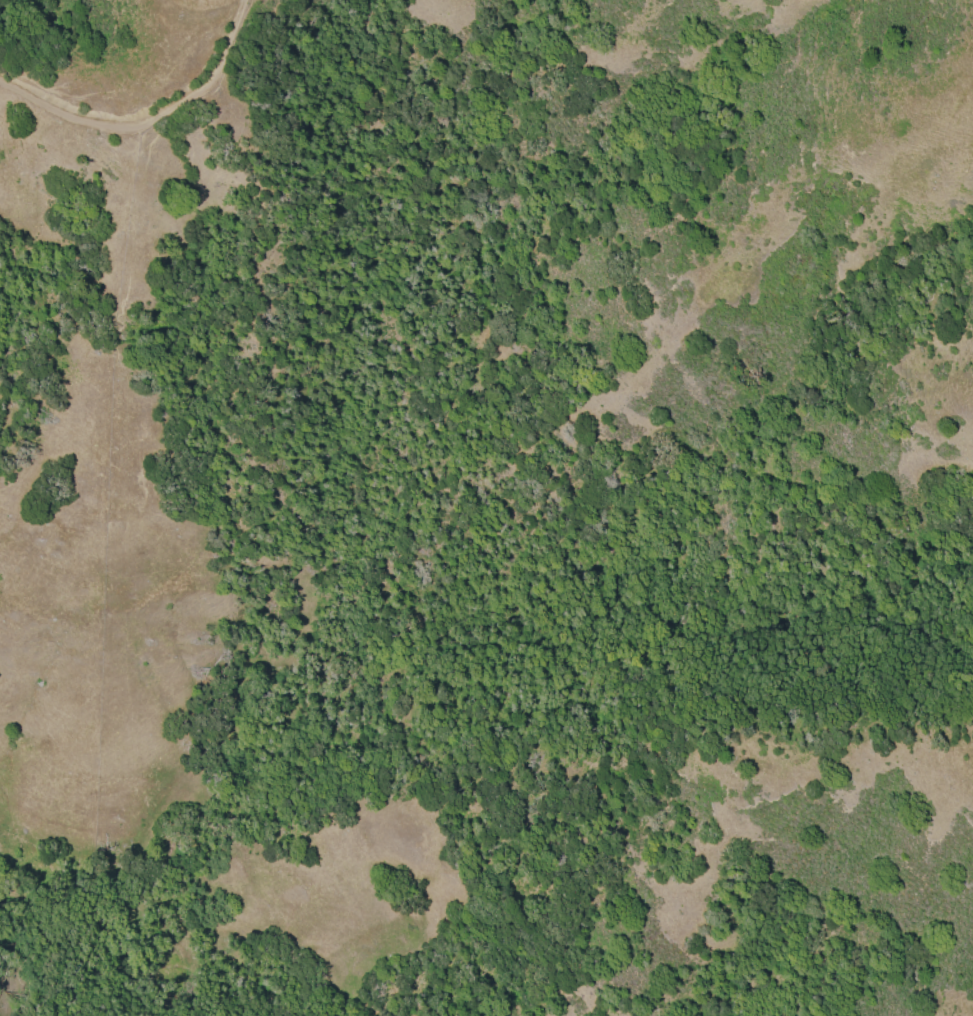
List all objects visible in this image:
road: (149, 119)

